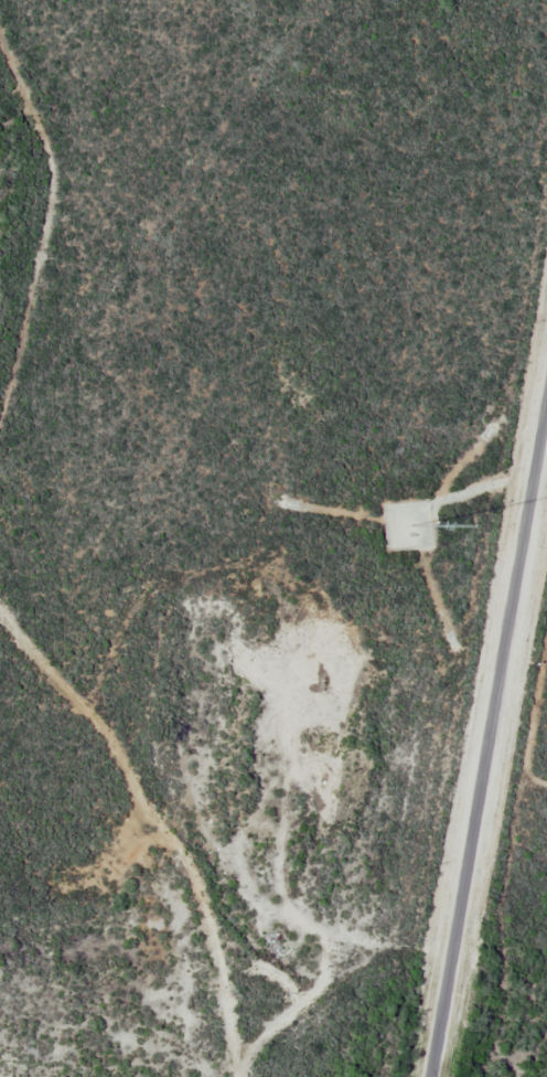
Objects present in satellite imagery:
road: (490, 747)

